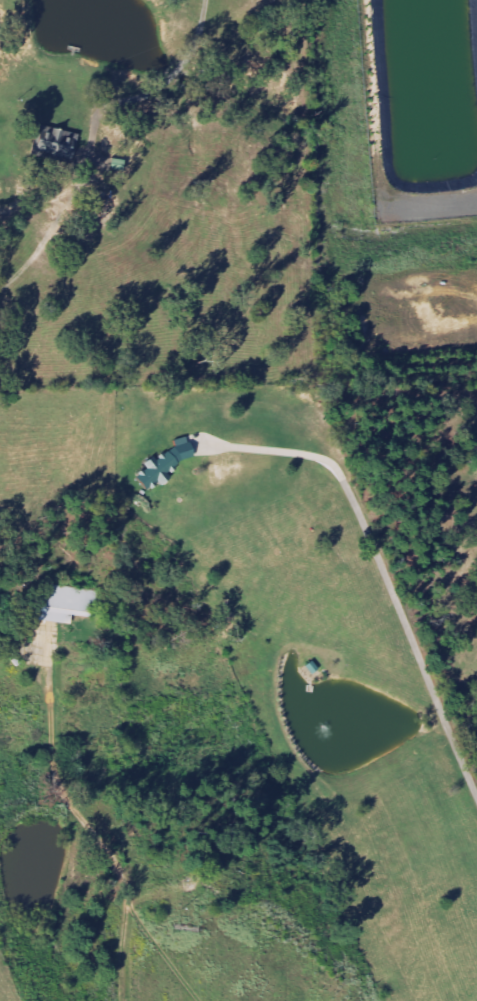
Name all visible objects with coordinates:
building: (59, 145)
building: (167, 465)
road: (413, 645)
road: (123, 951)

